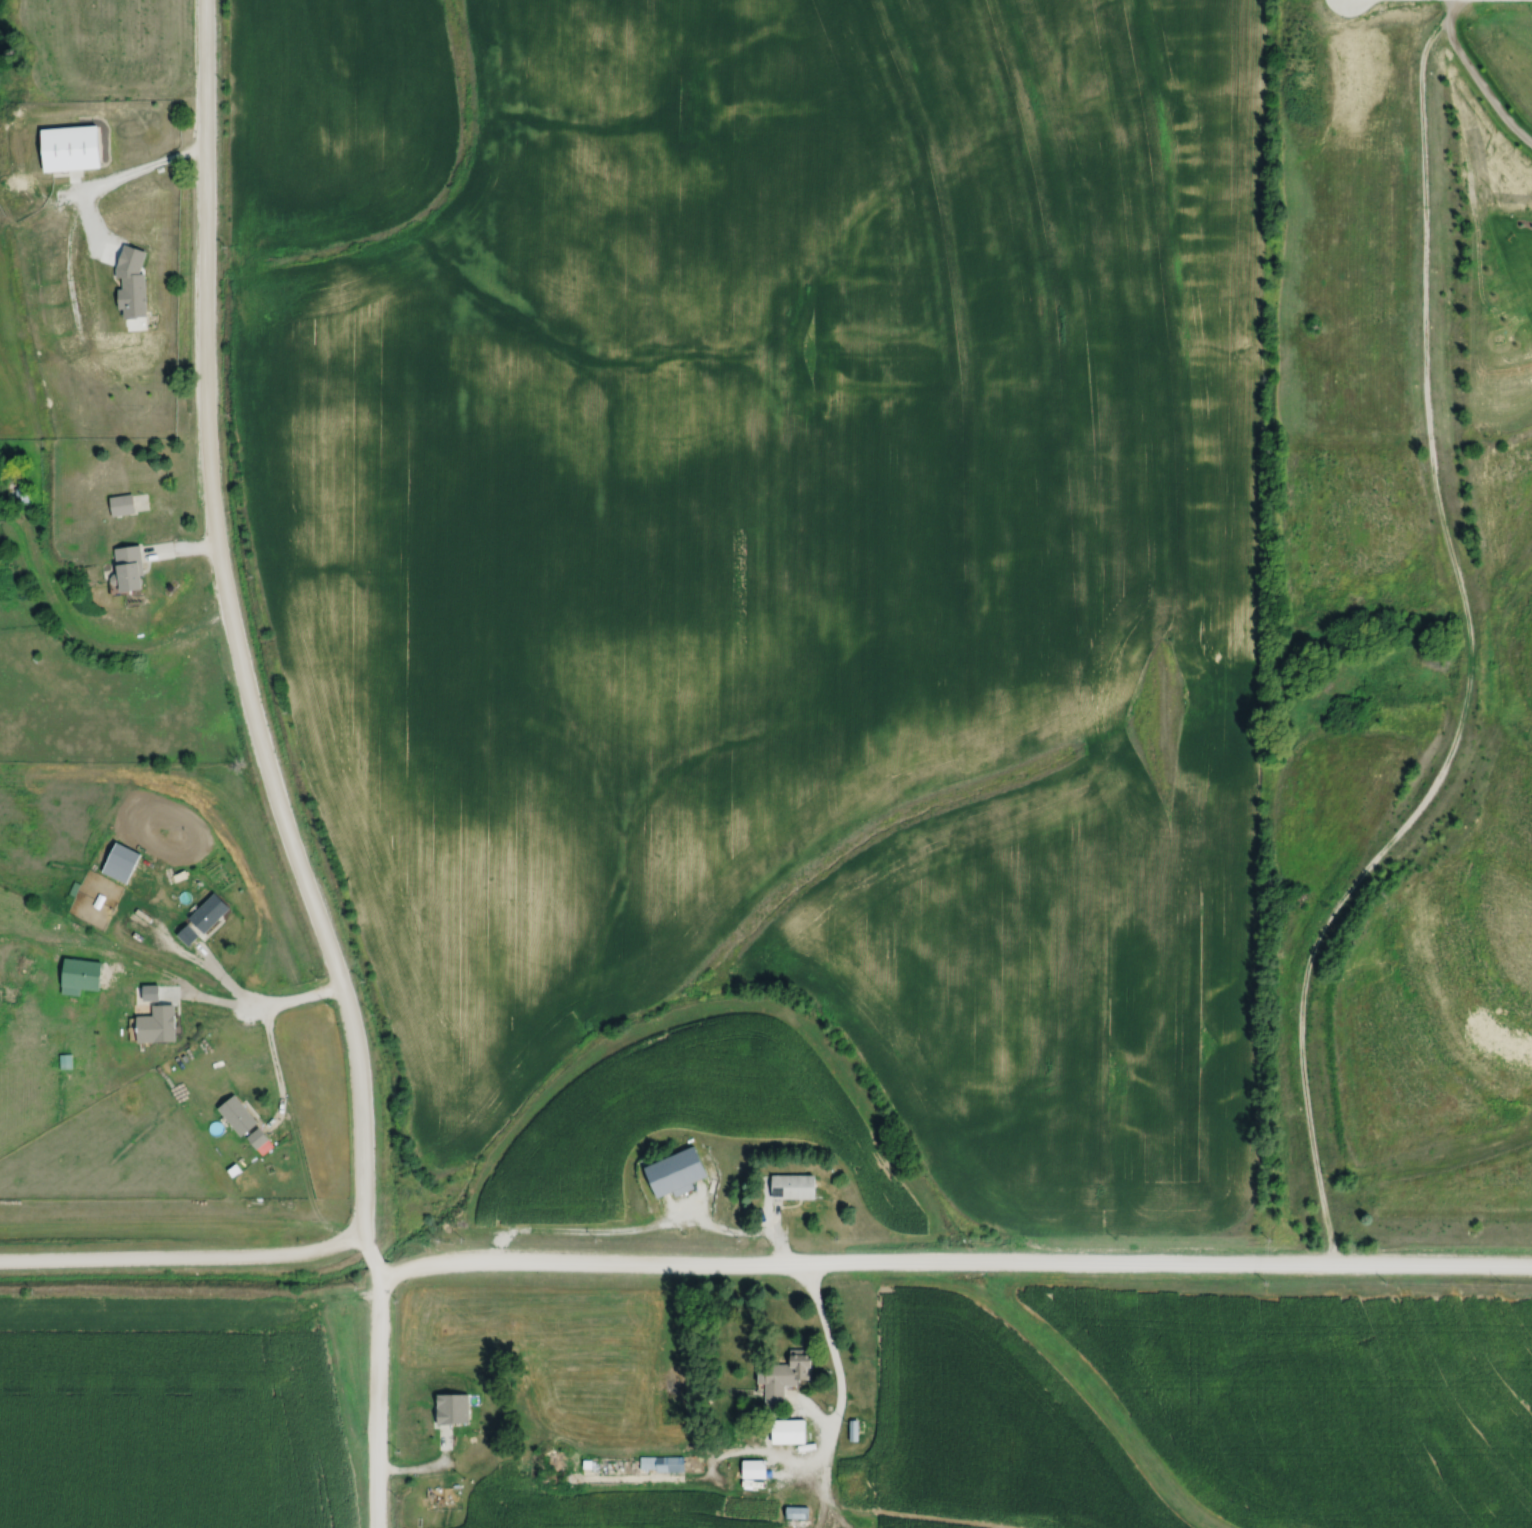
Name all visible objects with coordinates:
road: (1477, 77)
building: (74, 148)
road: (133, 174)
building: (22, 495)
building: (134, 567)
road: (228, 635)
road: (87, 642)
road: (1469, 654)
building: (212, 912)
building: (153, 992)
road: (263, 1003)
building: (167, 1022)
road: (275, 1064)
building: (241, 1115)
building: (261, 1137)
building: (670, 1173)
building: (788, 1186)
road: (951, 1260)
road: (181, 1261)
road: (368, 1262)
road: (837, 1373)
building: (781, 1375)
road: (375, 1399)
building: (784, 1431)
building: (850, 1431)
building: (614, 1463)

